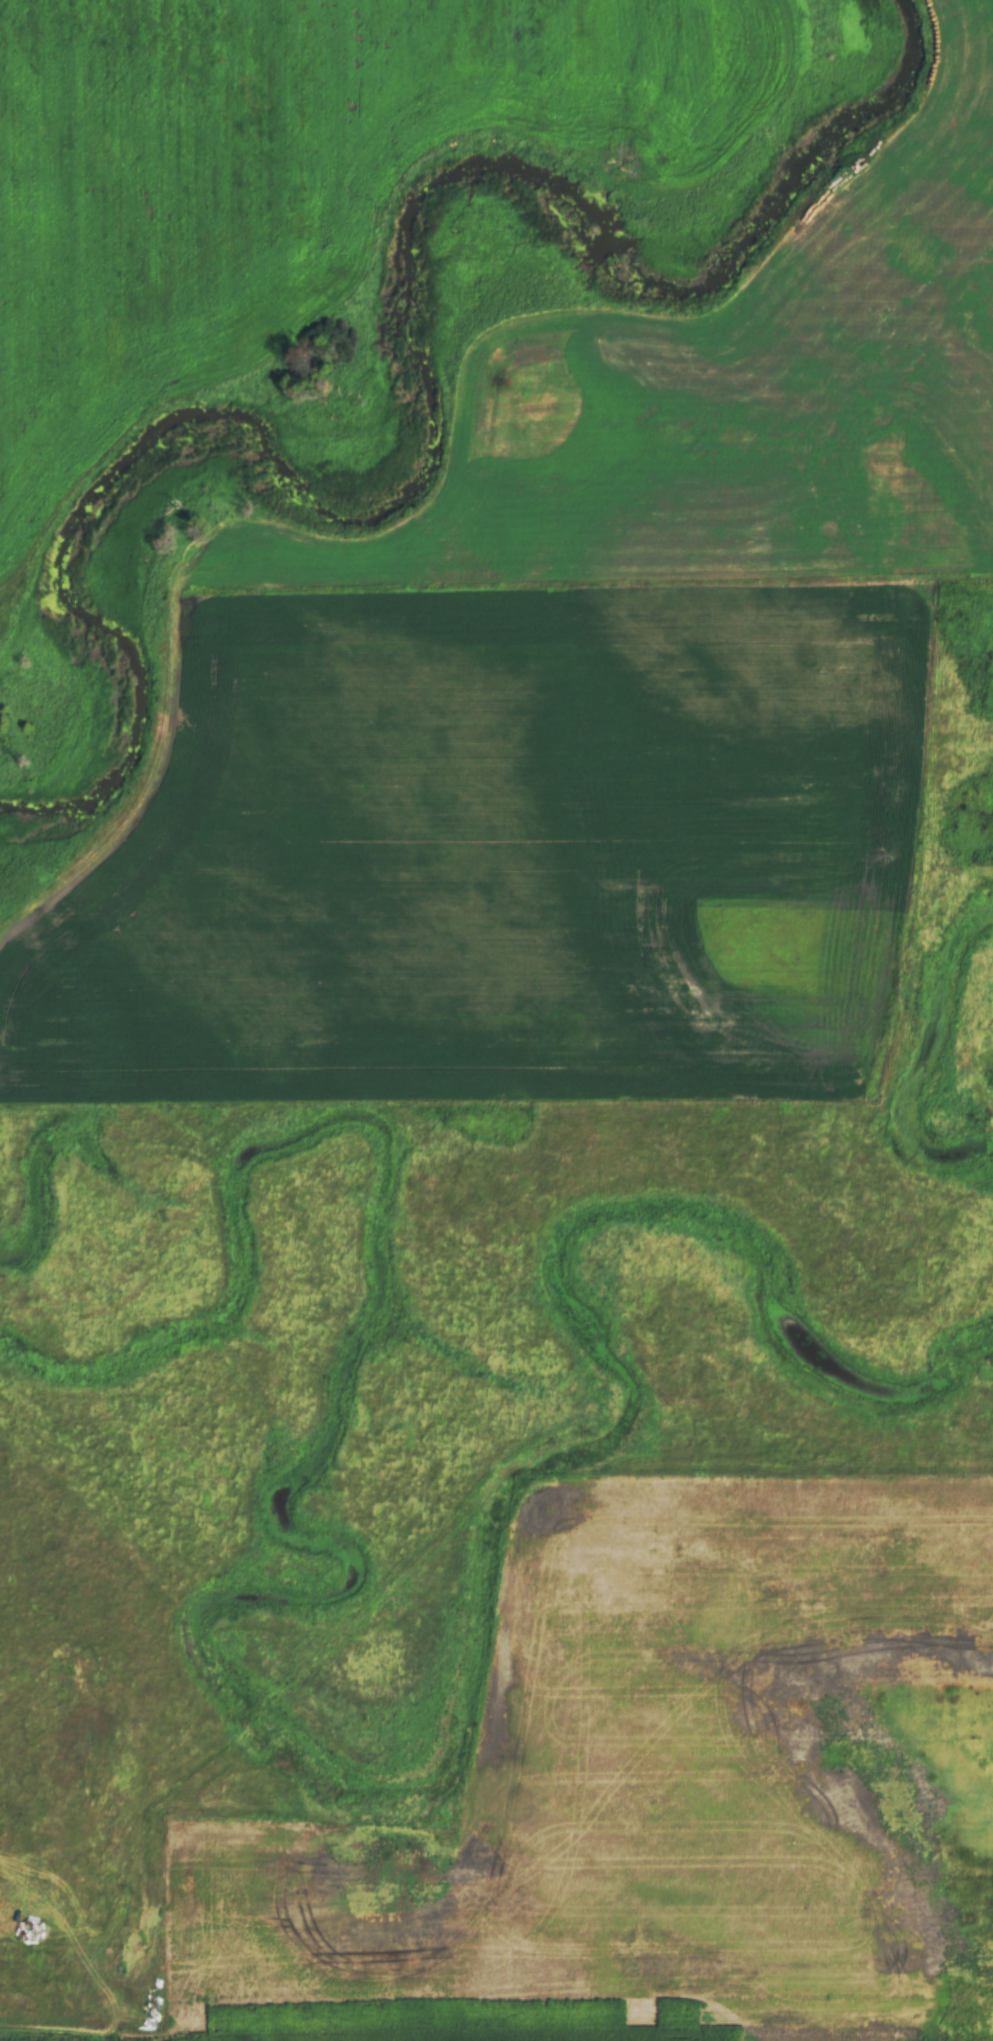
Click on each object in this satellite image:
river: (426, 411)

